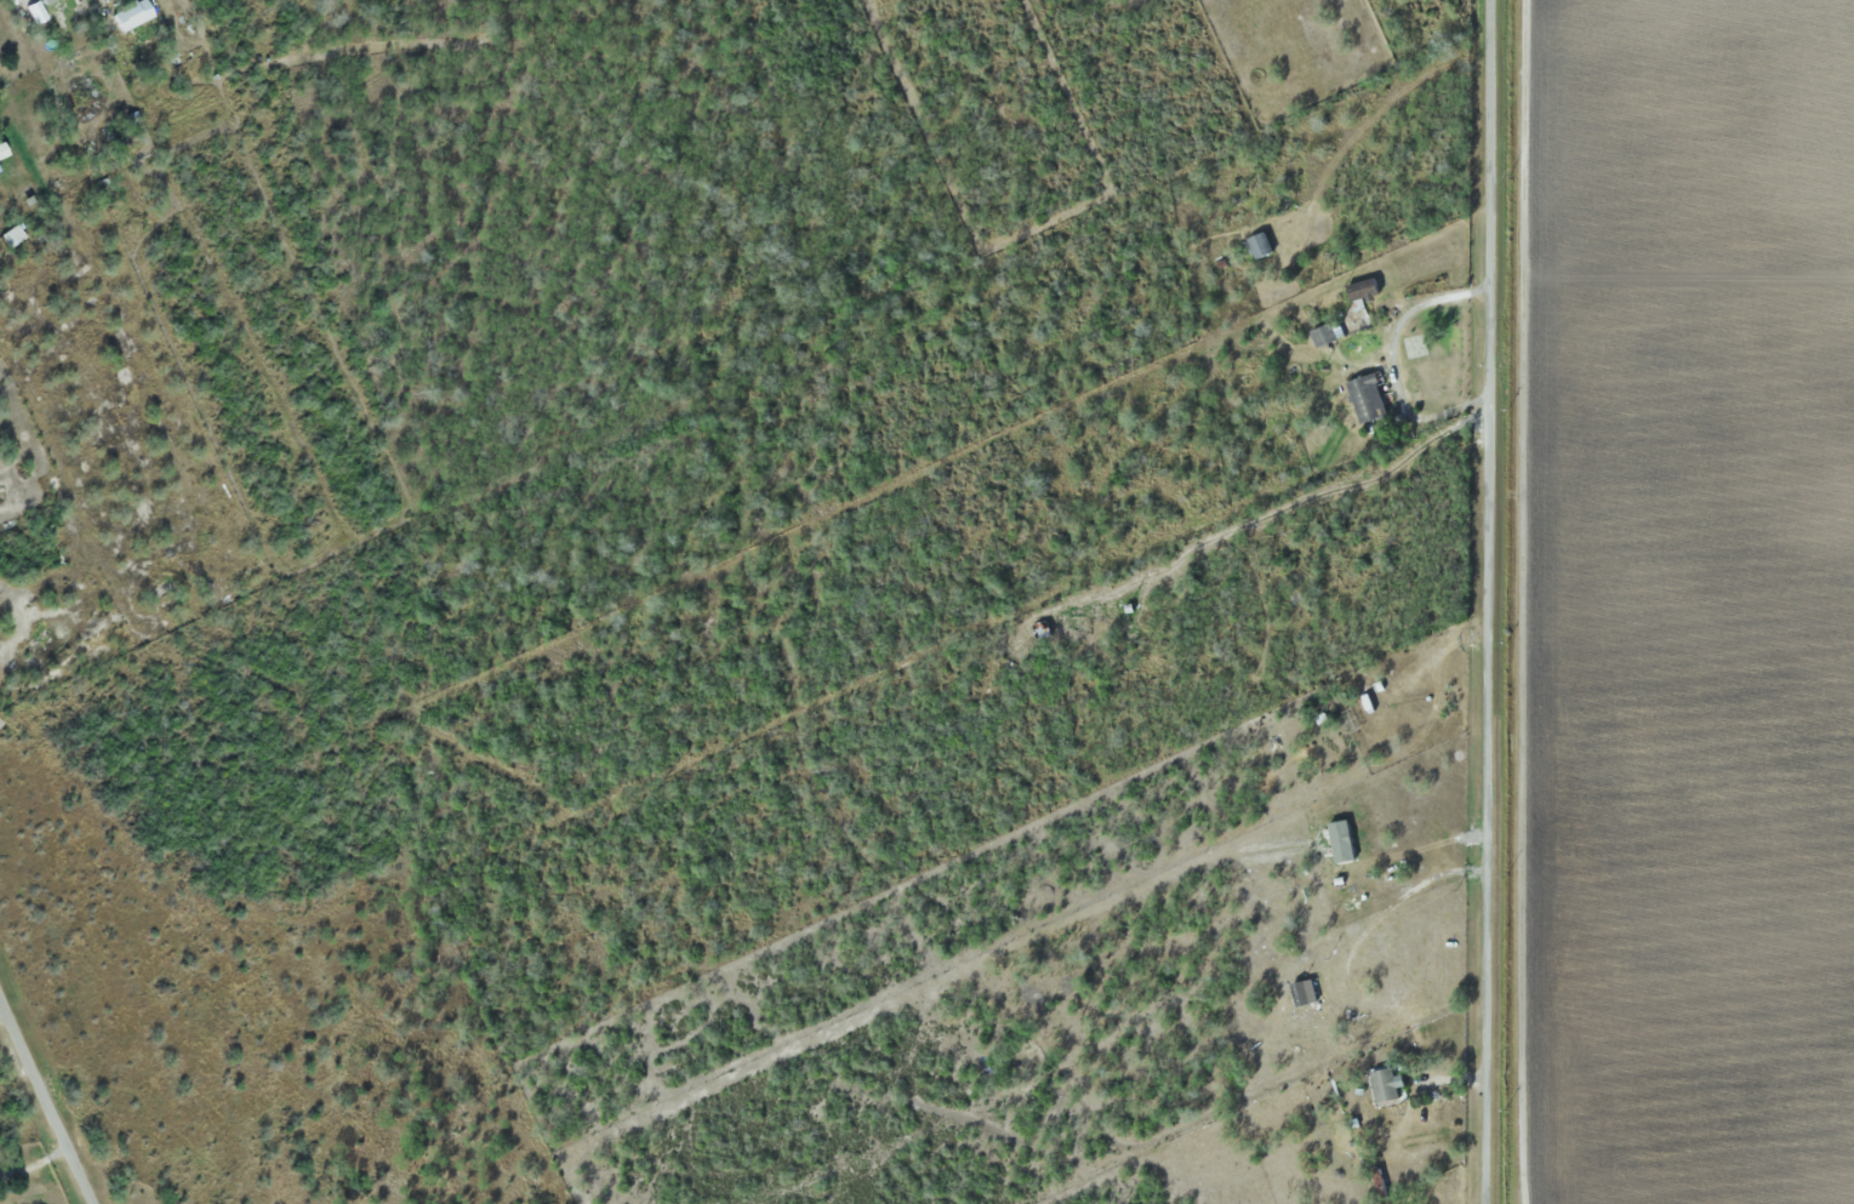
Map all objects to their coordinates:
road: (101, 4)
building: (133, 15)
building: (12, 236)
building: (1263, 245)
building: (1365, 290)
building: (1329, 335)
building: (1415, 346)
building: (1293, 372)
building: (1370, 399)
road: (1488, 601)
building: (1303, 993)
building: (1396, 1082)
road: (45, 1103)

